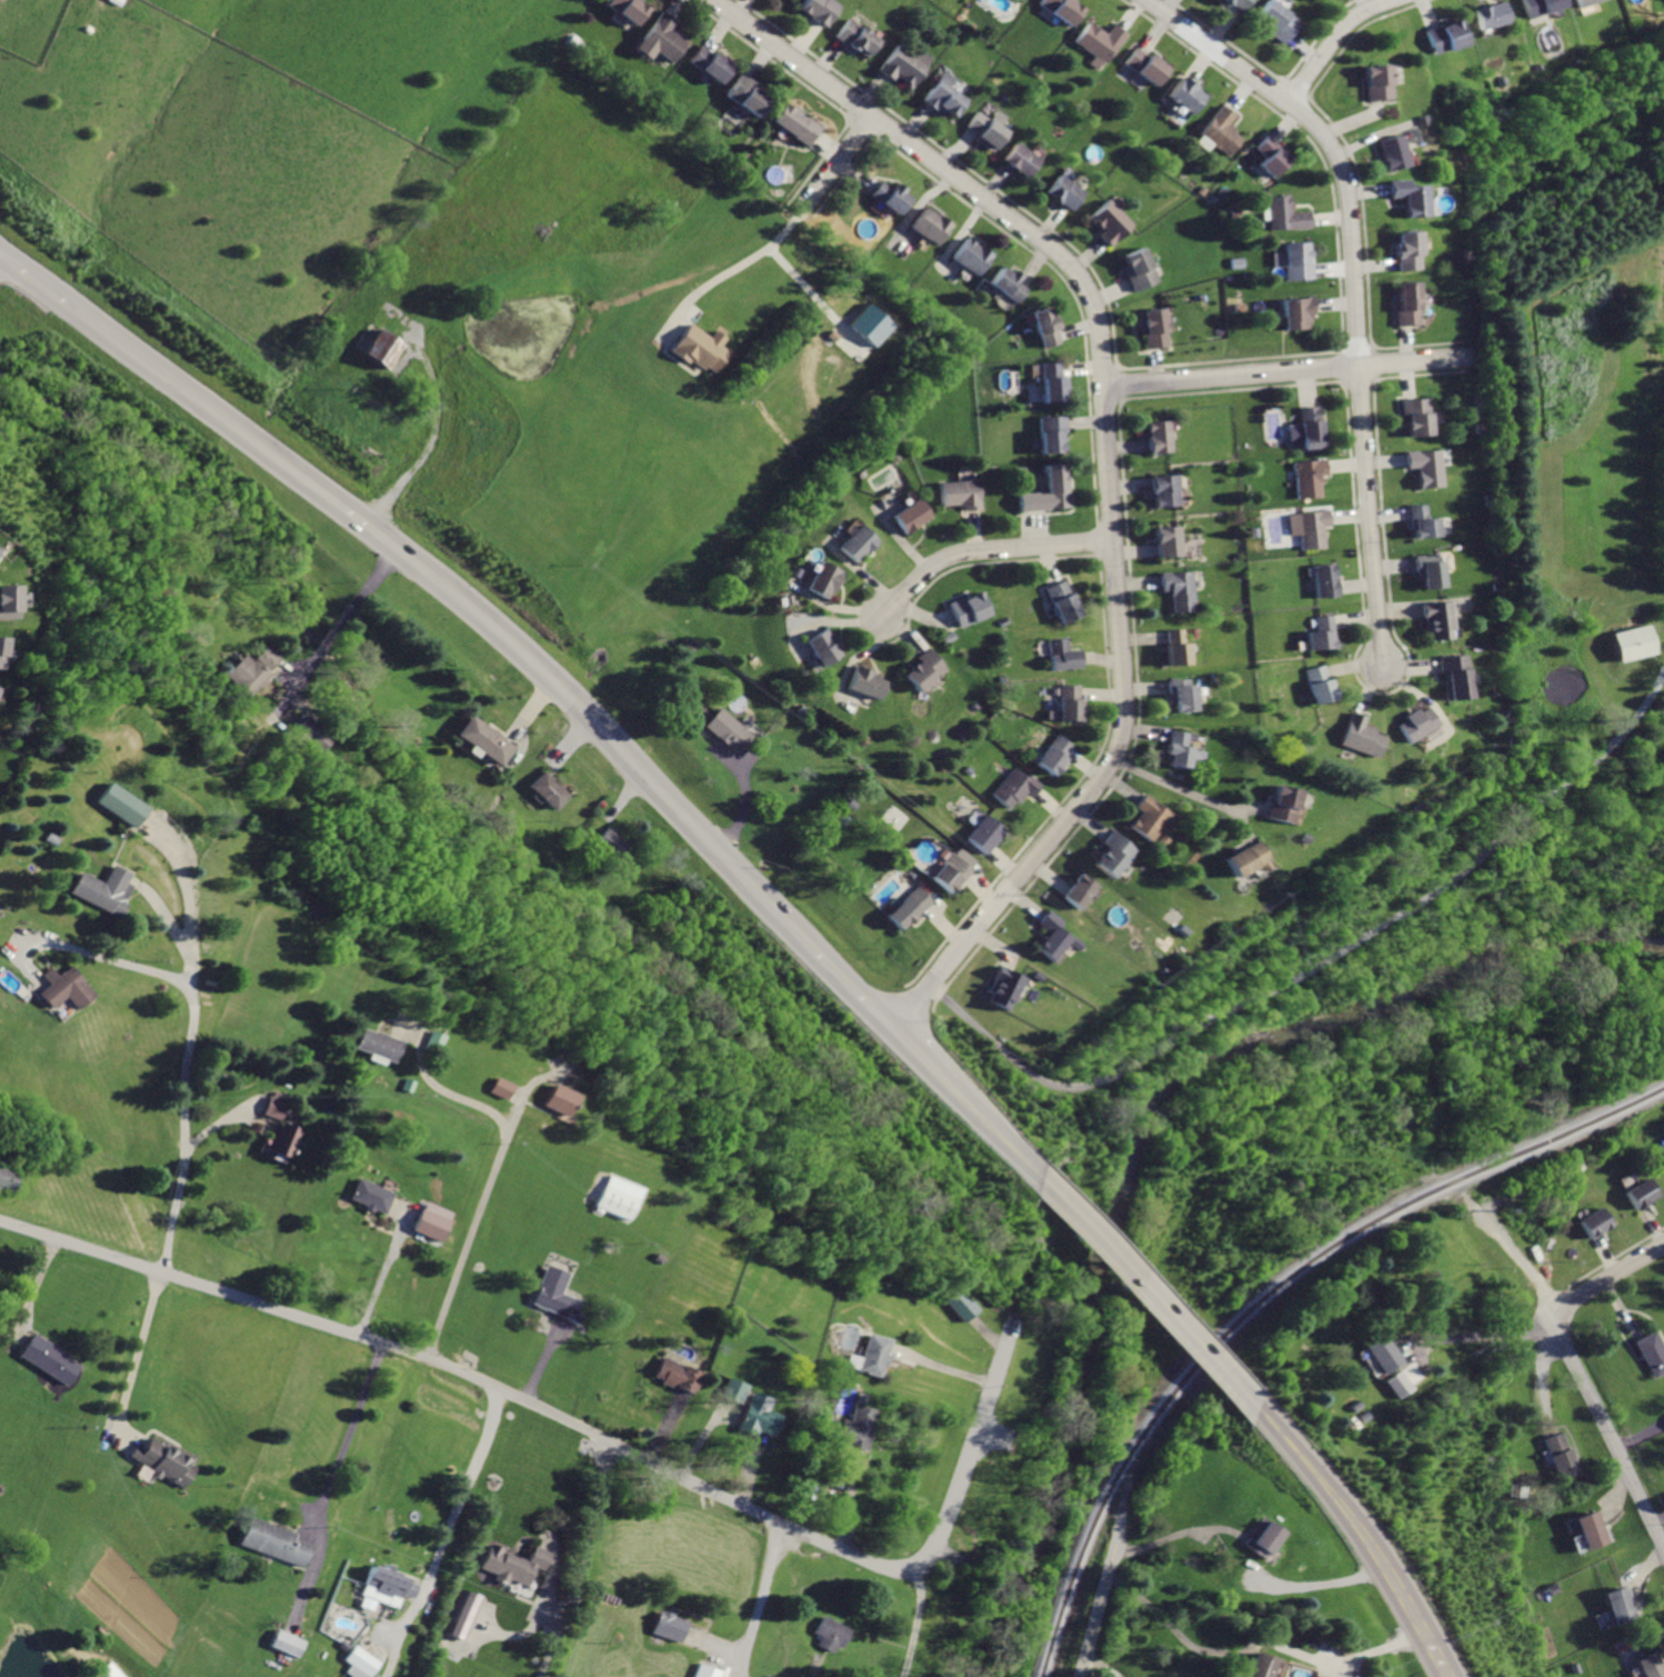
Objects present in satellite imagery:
building: (1229, 2)
building: (1583, 2)
building: (1540, 7)
building: (628, 9)
building: (820, 9)
building: (1061, 9)
building: (1487, 14)
building: (1274, 23)
building: (663, 36)
building: (1442, 37)
building: (858, 38)
road: (1327, 42)
building: (1097, 44)
building: (710, 64)
building: (903, 66)
building: (1144, 67)
building: (1373, 82)
building: (748, 96)
building: (943, 96)
building: (1183, 96)
building: (796, 124)
building: (1217, 129)
building: (986, 131)
building: (1387, 152)
building: (1269, 157)
building: (1021, 160)
road: (833, 164)
building: (1063, 193)
building: (1402, 196)
building: (888, 197)
building: (1282, 216)
building: (1109, 223)
building: (930, 224)
building: (1401, 250)
building: (971, 256)
building: (1293, 262)
road: (732, 267)
building: (1137, 272)
road: (33, 278)
crop: (438, 282)
building: (1005, 285)
road: (1351, 286)
building: (1405, 306)
building: (1292, 313)
building: (871, 323)
building: (1044, 326)
building: (1152, 329)
building: (700, 347)
building: (385, 352)
road: (1286, 371)
building: (1051, 382)
building: (1416, 416)
building: (1307, 428)
building: (1052, 432)
building: (1161, 438)
road: (432, 442)
road: (1110, 466)
building: (1425, 466)
building: (1307, 477)
building: (1164, 490)
building: (1049, 491)
building: (961, 492)
building: (910, 515)
building: (1423, 522)
building: (1313, 528)
building: (1169, 541)
building: (856, 542)
road: (988, 549)
building: (1427, 570)
building: (823, 579)
building: (1324, 580)
building: (1180, 588)
road: (459, 595)
building: (1063, 600)
building: (6, 601)
building: (968, 608)
building: (1436, 617)
road: (344, 621)
building: (1320, 632)
building: (1633, 641)
building: (0, 647)
building: (823, 647)
building: (1179, 647)
building: (1063, 655)
building: (251, 670)
building: (923, 670)
building: (1454, 676)
building: (866, 682)
building: (1319, 683)
building: (1183, 695)
building: (1072, 702)
building: (1415, 723)
building: (728, 728)
building: (309, 735)
building: (1359, 736)
building: (483, 737)
building: (1180, 747)
building: (1055, 753)
road: (1175, 786)
building: (1018, 787)
building: (550, 789)
building: (118, 803)
building: (1283, 803)
road: (1250, 806)
building: (1154, 817)
road: (1242, 826)
building: (986, 832)
building: (610, 840)
building: (1115, 855)
building: (1246, 858)
building: (953, 870)
road: (183, 877)
building: (98, 889)
building: (1082, 891)
building: (912, 906)
road: (168, 921)
building: (1054, 935)
road: (80, 951)
road: (1320, 965)
road: (845, 986)
building: (1004, 988)
building: (68, 989)
building: (429, 1040)
building: (375, 1045)
road: (914, 1057)
building: (495, 1088)
road: (442, 1090)
building: (558, 1100)
building: (275, 1104)
road: (187, 1129)
road: (986, 1131)
building: (282, 1144)
building: (7, 1178)
building: (371, 1195)
building: (1640, 1195)
building: (615, 1198)
road: (479, 1210)
building: (1594, 1222)
building: (432, 1224)
road: (380, 1275)
road: (1605, 1279)
road: (28, 1288)
building: (554, 1295)
road: (1143, 1295)
railway: (1267, 1296)
building: (958, 1306)
road: (1472, 1334)
road: (133, 1349)
building: (1651, 1351)
building: (1379, 1352)
building: (868, 1355)
building: (47, 1358)
building: (849, 1360)
road: (1578, 1370)
building: (674, 1374)
building: (1393, 1382)
road: (1540, 1385)
building: (734, 1390)
building: (756, 1416)
road: (345, 1428)
building: (854, 1428)
road: (594, 1433)
building: (1561, 1454)
building: (163, 1458)
road: (1324, 1480)
road: (459, 1486)
road: (1657, 1518)
building: (1592, 1528)
road: (1175, 1534)
building: (1262, 1537)
building: (271, 1540)
road: (581, 1560)
building: (510, 1564)
road: (1321, 1583)
building: (385, 1584)
road: (1106, 1593)
road: (754, 1598)
building: (1621, 1606)
building: (462, 1615)
road: (1412, 1619)
road: (913, 1621)
building: (666, 1626)
building: (590, 1633)
building: (828, 1633)
building: (285, 1643)
road: (1254, 1644)
building: (359, 1663)
road: (1105, 1665)
building: (1262, 1665)
building: (1652, 1666)
building: (703, 1670)
building: (111, 1671)
building: (766, 1676)
building: (1316, 1676)

